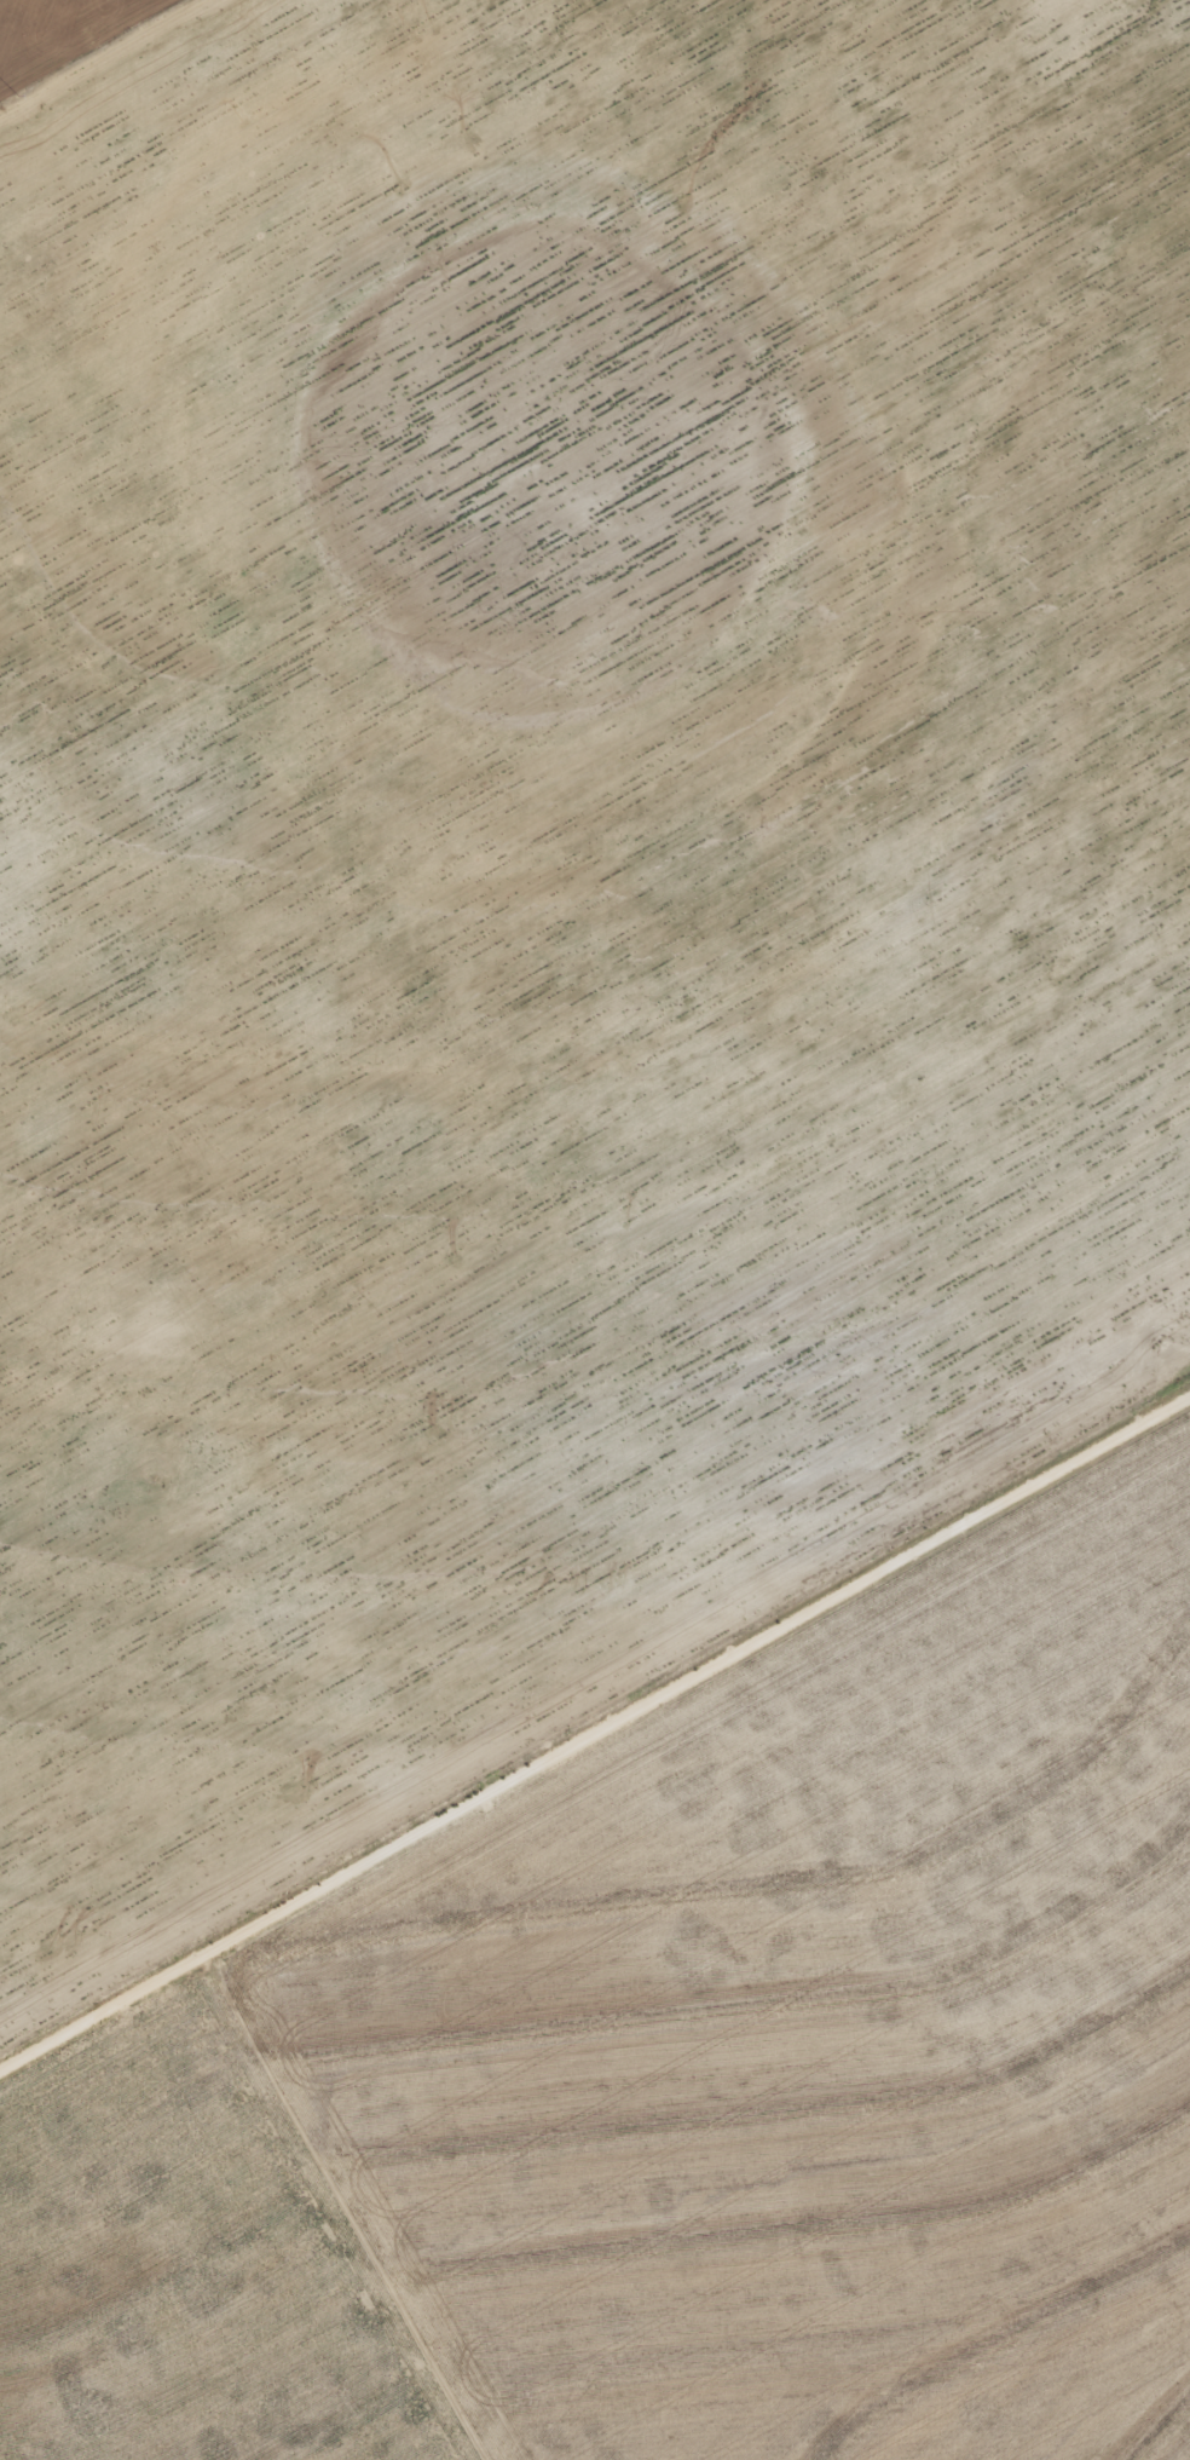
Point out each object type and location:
road: (595, 1735)

